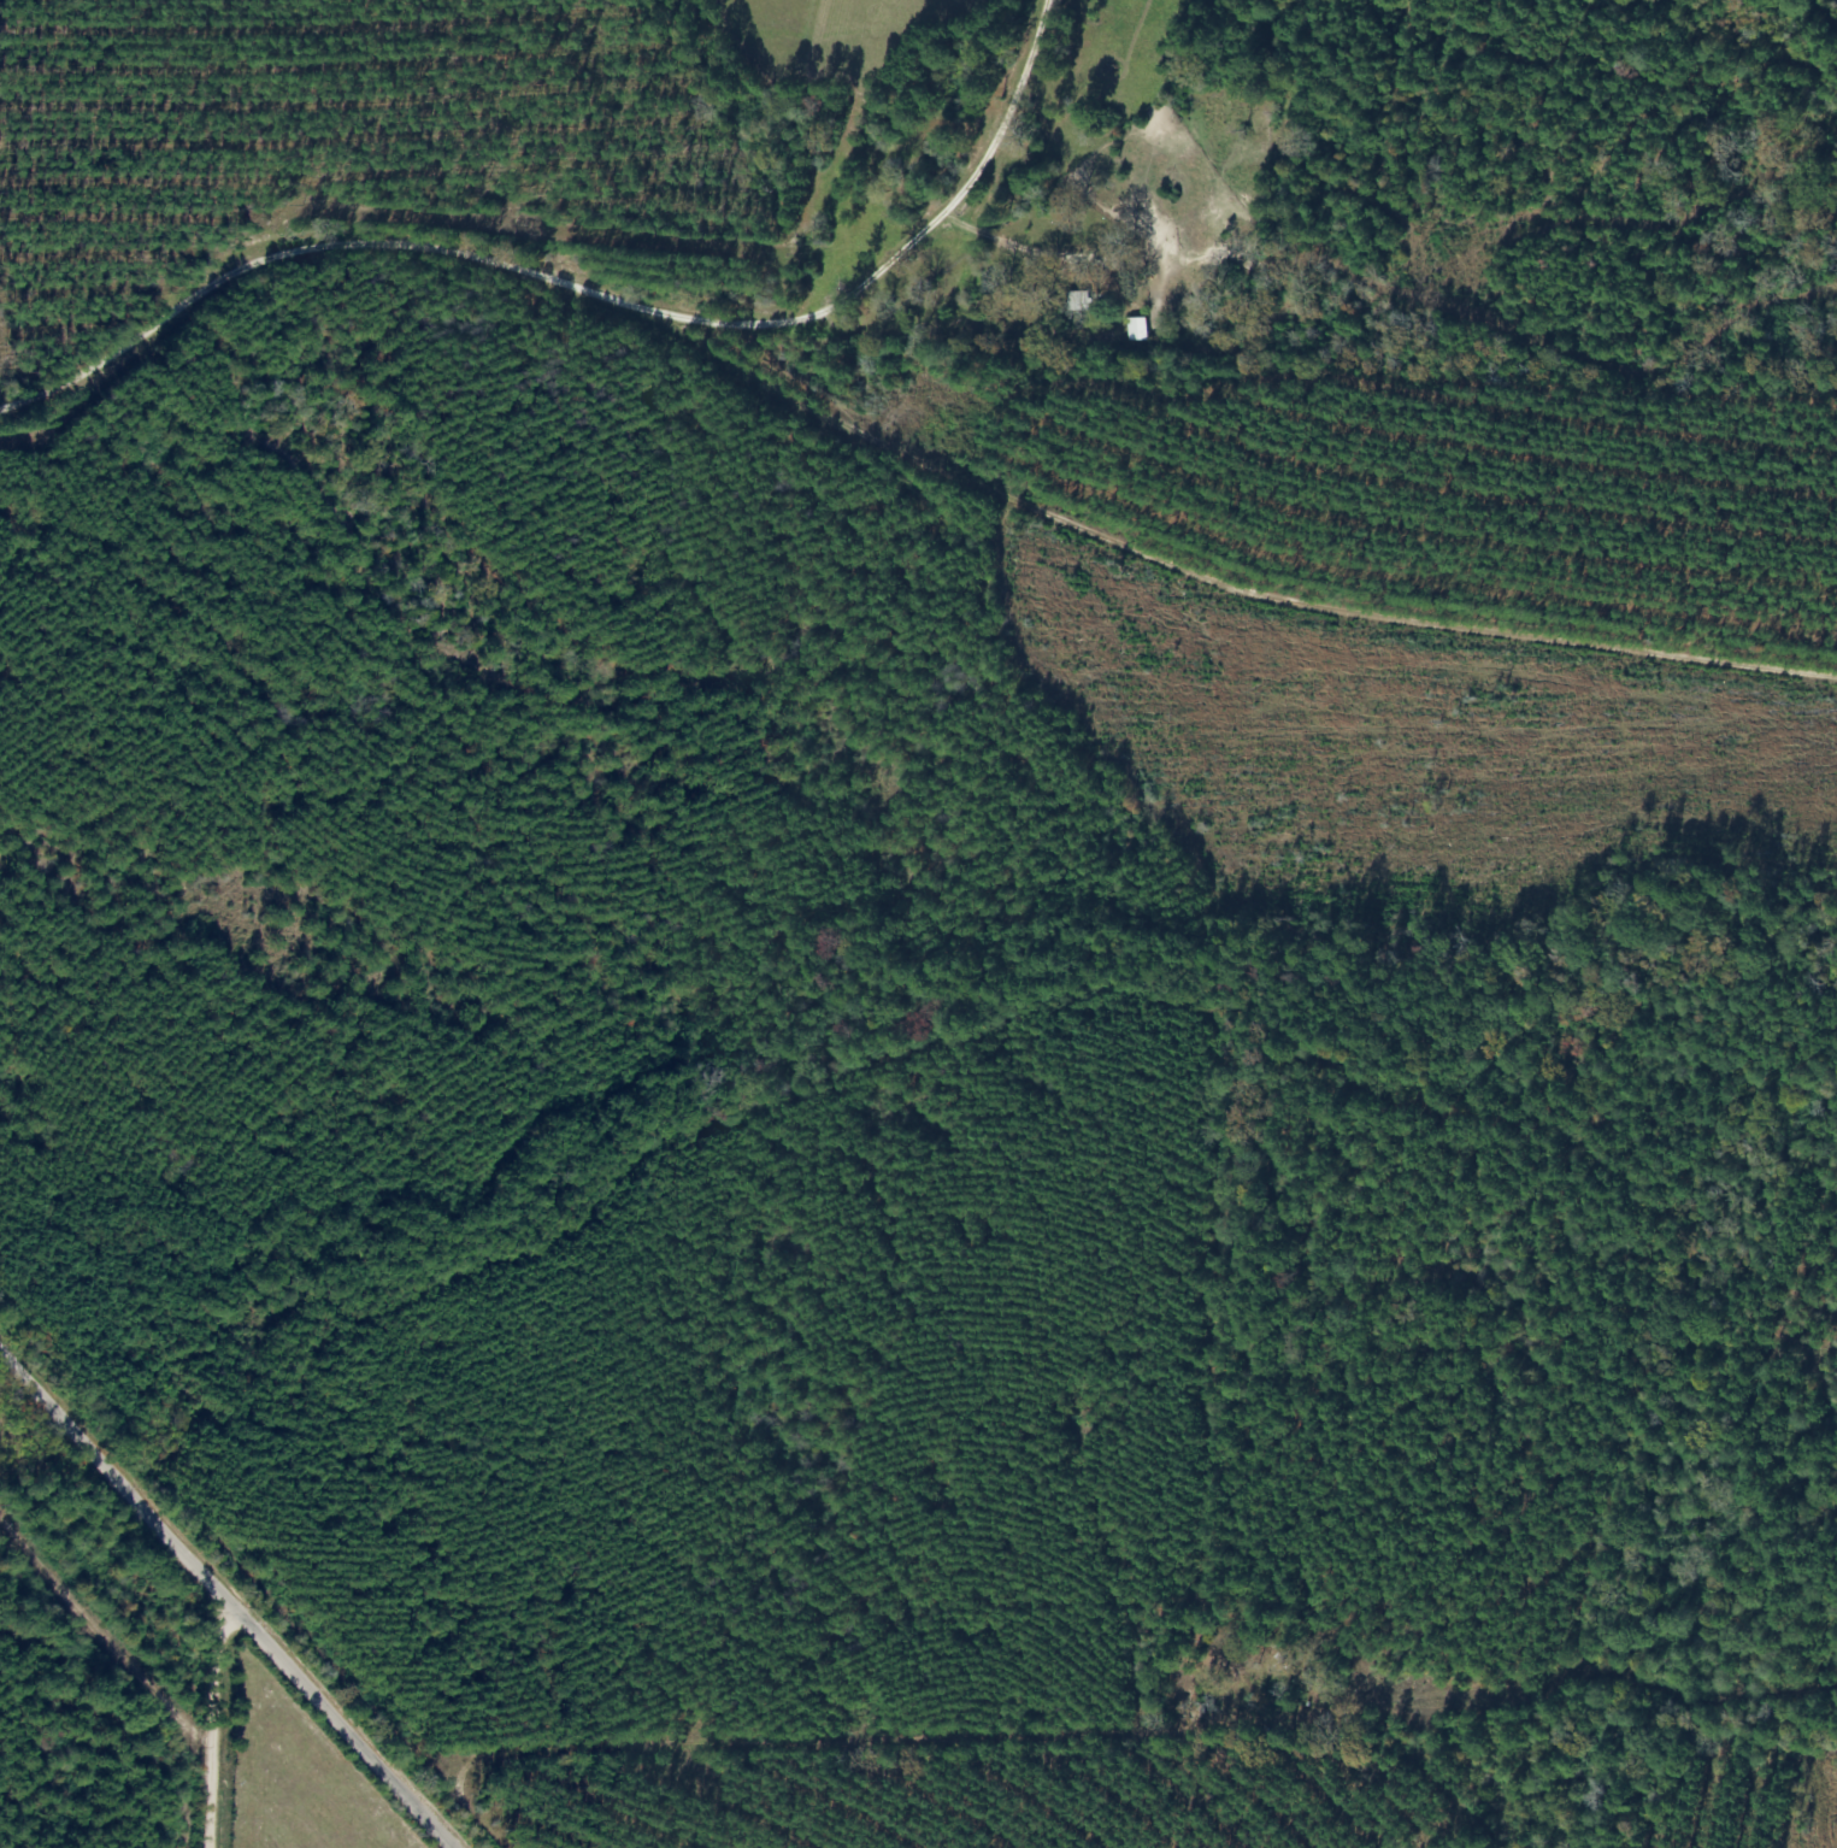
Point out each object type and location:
building: (1079, 301)
road: (630, 305)
road: (406, 311)
building: (1136, 330)
road: (795, 384)
road: (202, 652)
road: (224, 1593)
road: (226, 1728)

